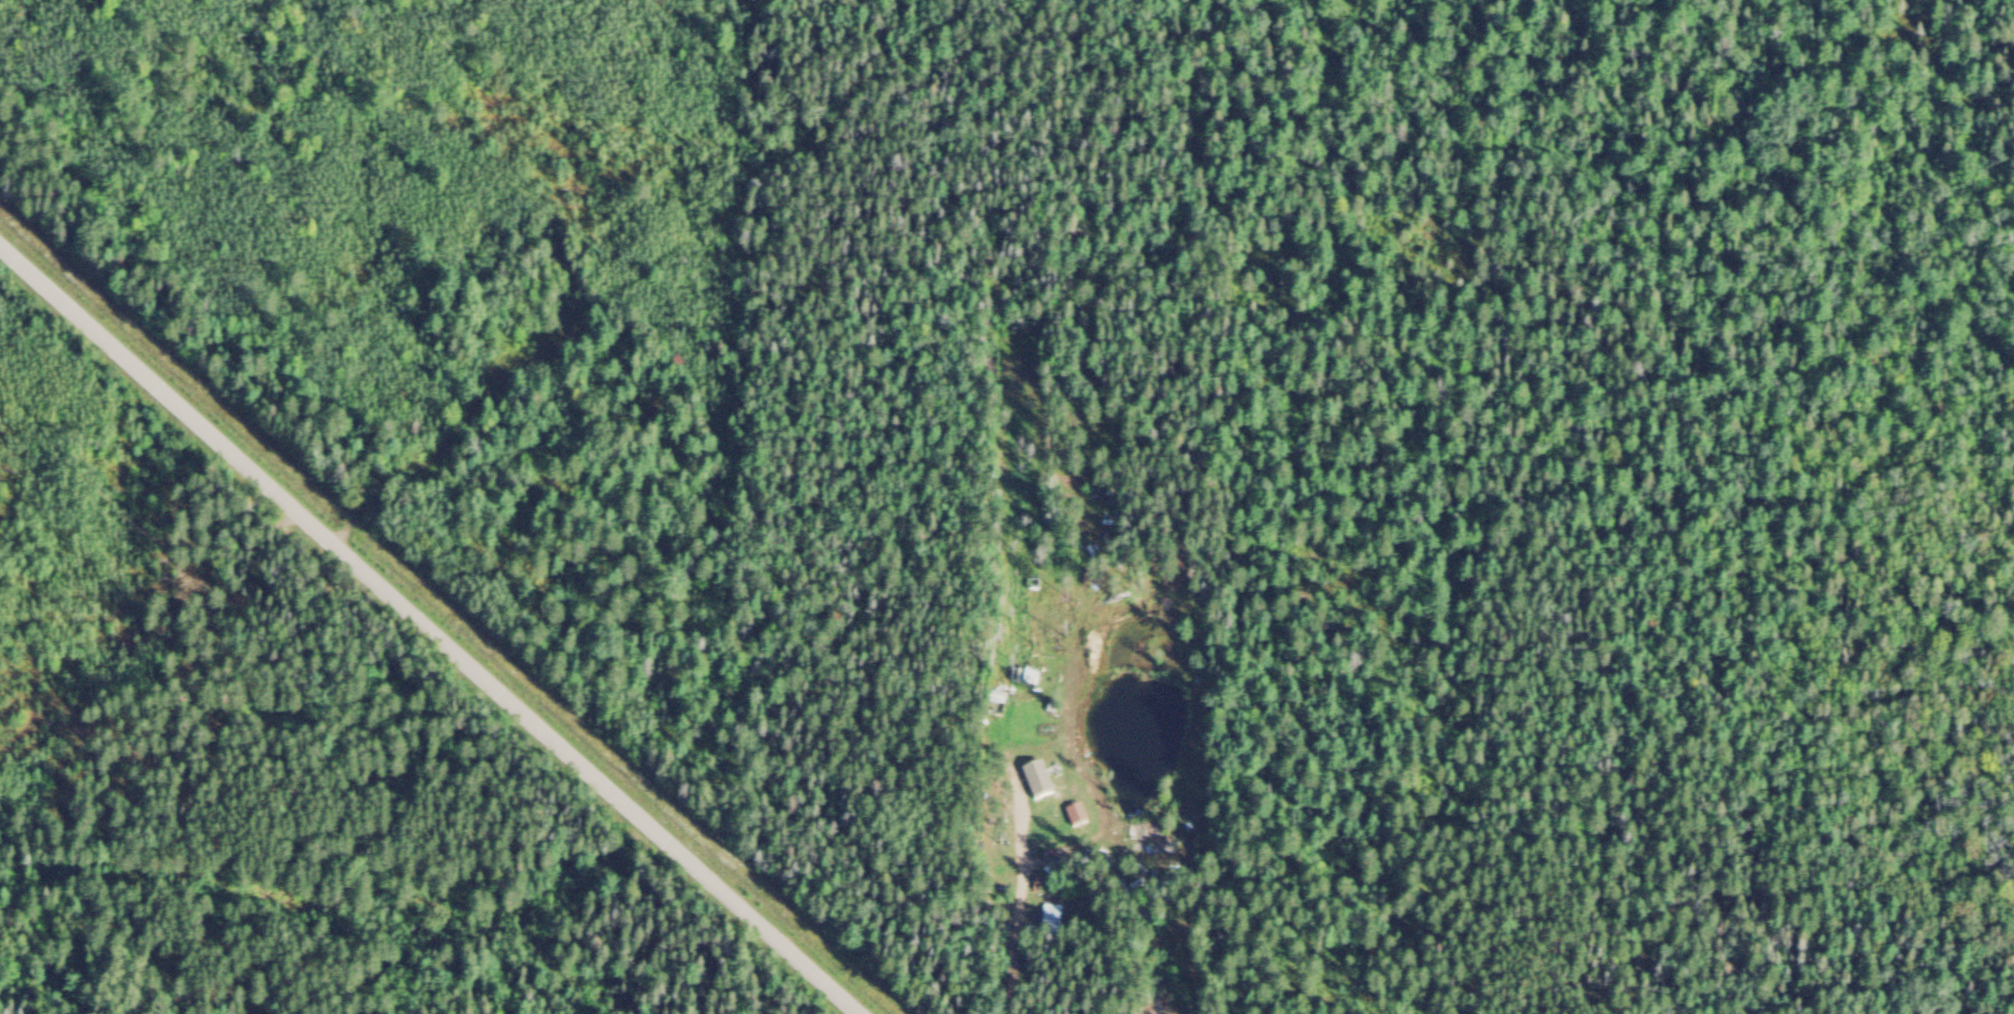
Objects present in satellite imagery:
road: (145, 377)
road: (140, 532)
park: (299, 553)
building: (1030, 677)
road: (571, 760)
building: (1041, 781)
building: (1055, 919)

